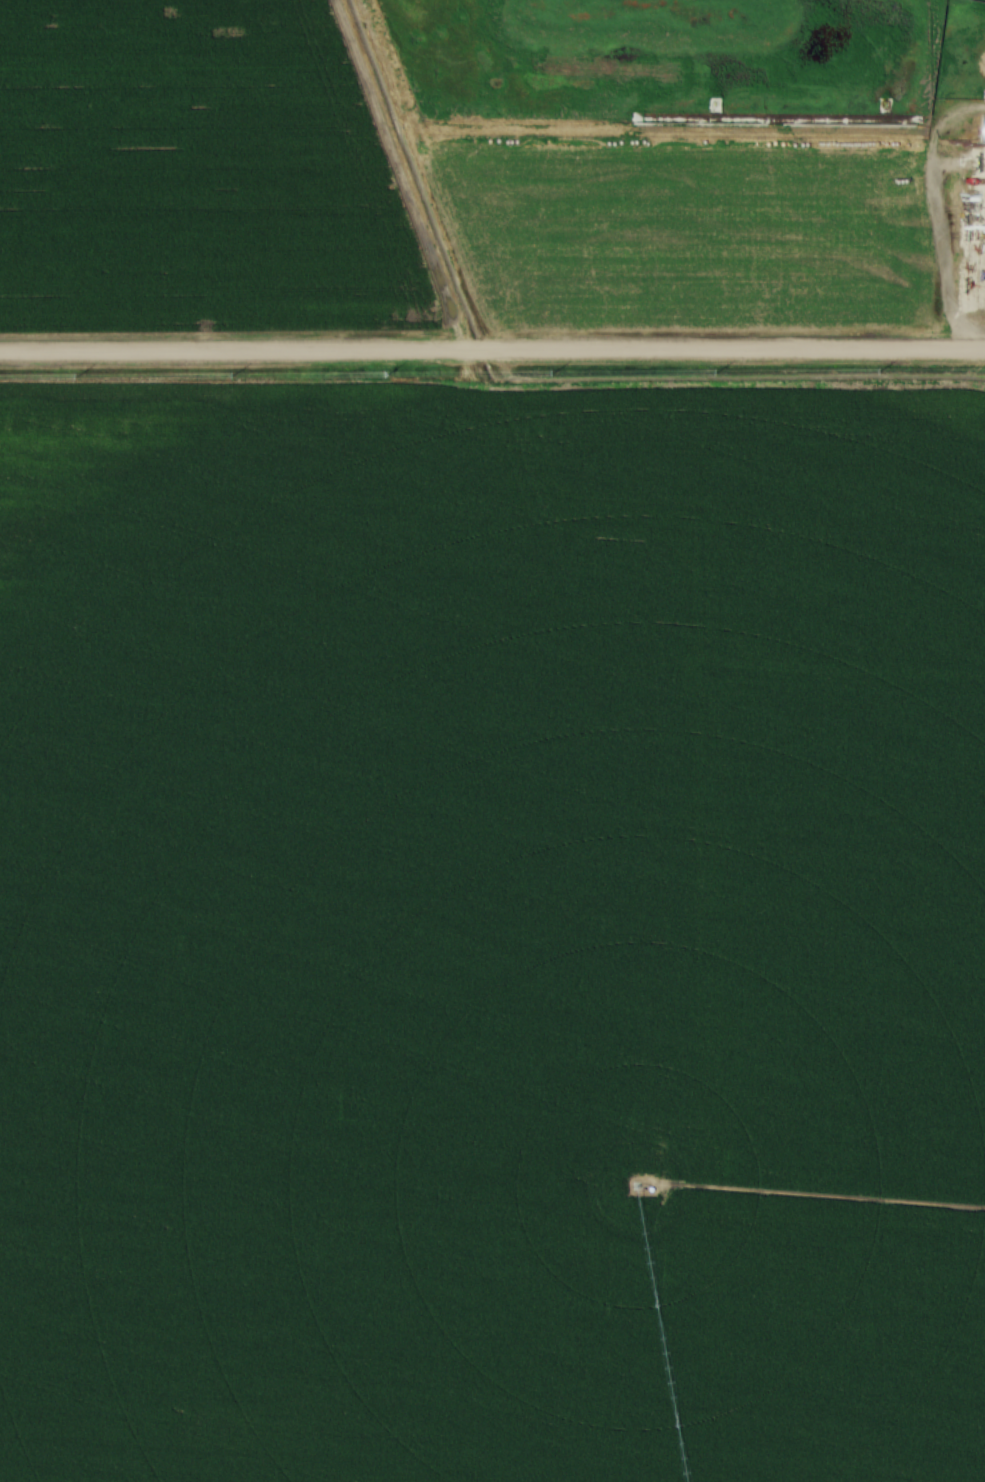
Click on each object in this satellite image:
building: (983, 131)
road: (492, 352)

